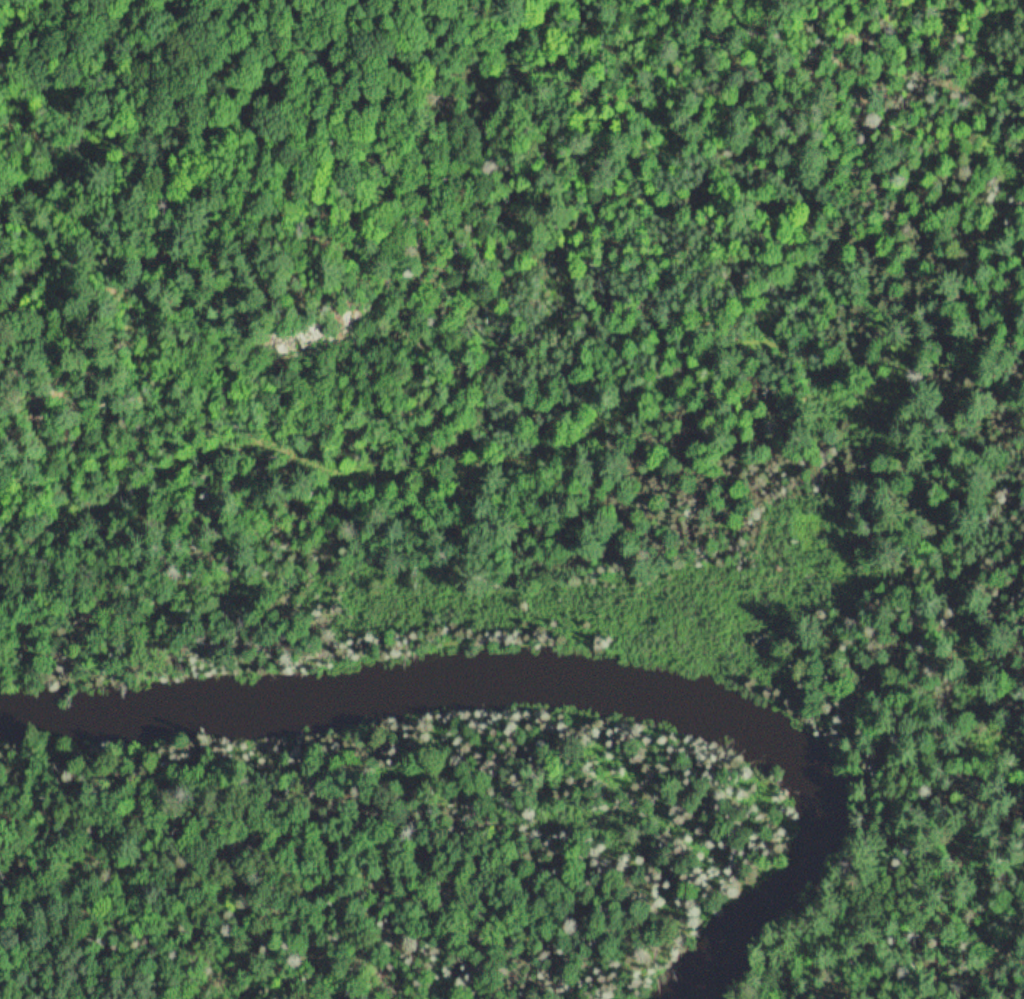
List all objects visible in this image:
river: (558, 684)

